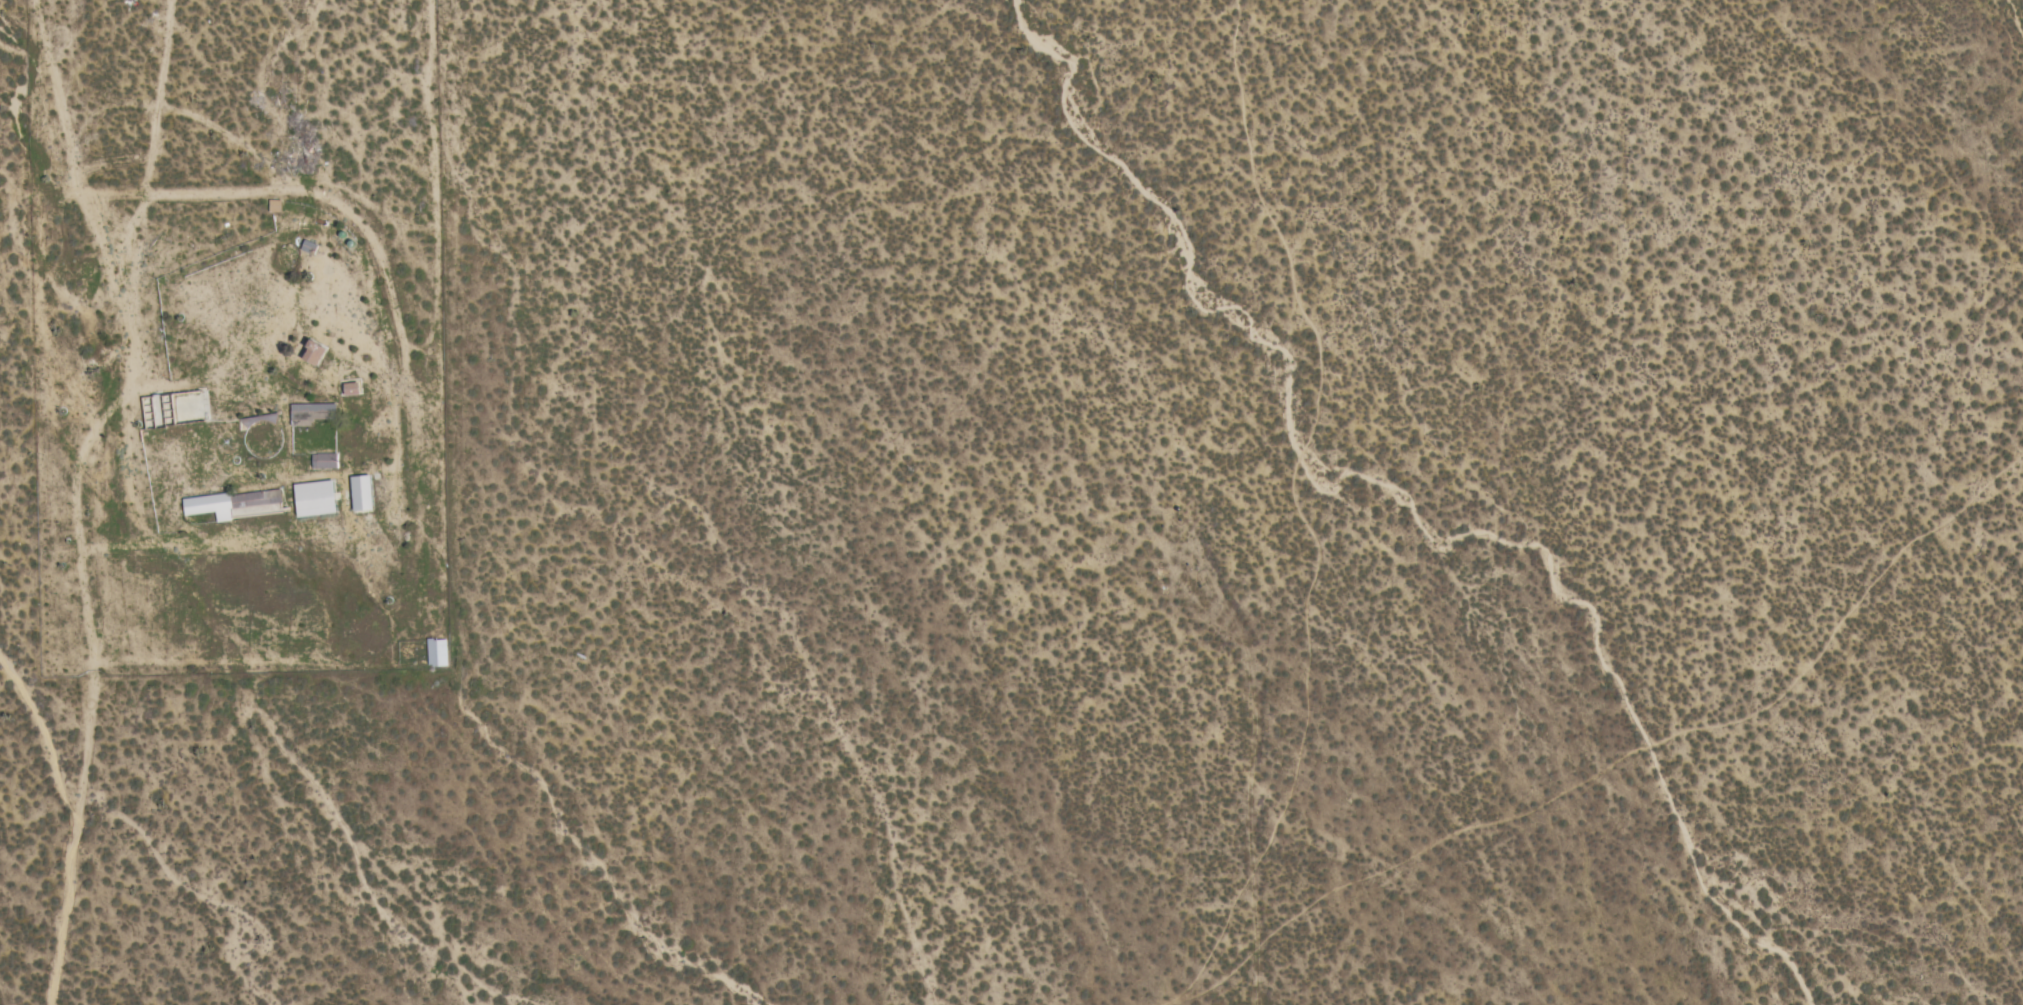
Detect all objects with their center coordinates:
building: (315, 354)
building: (352, 390)
building: (362, 494)
road: (81, 495)
building: (315, 499)
building: (236, 505)
building: (437, 654)

